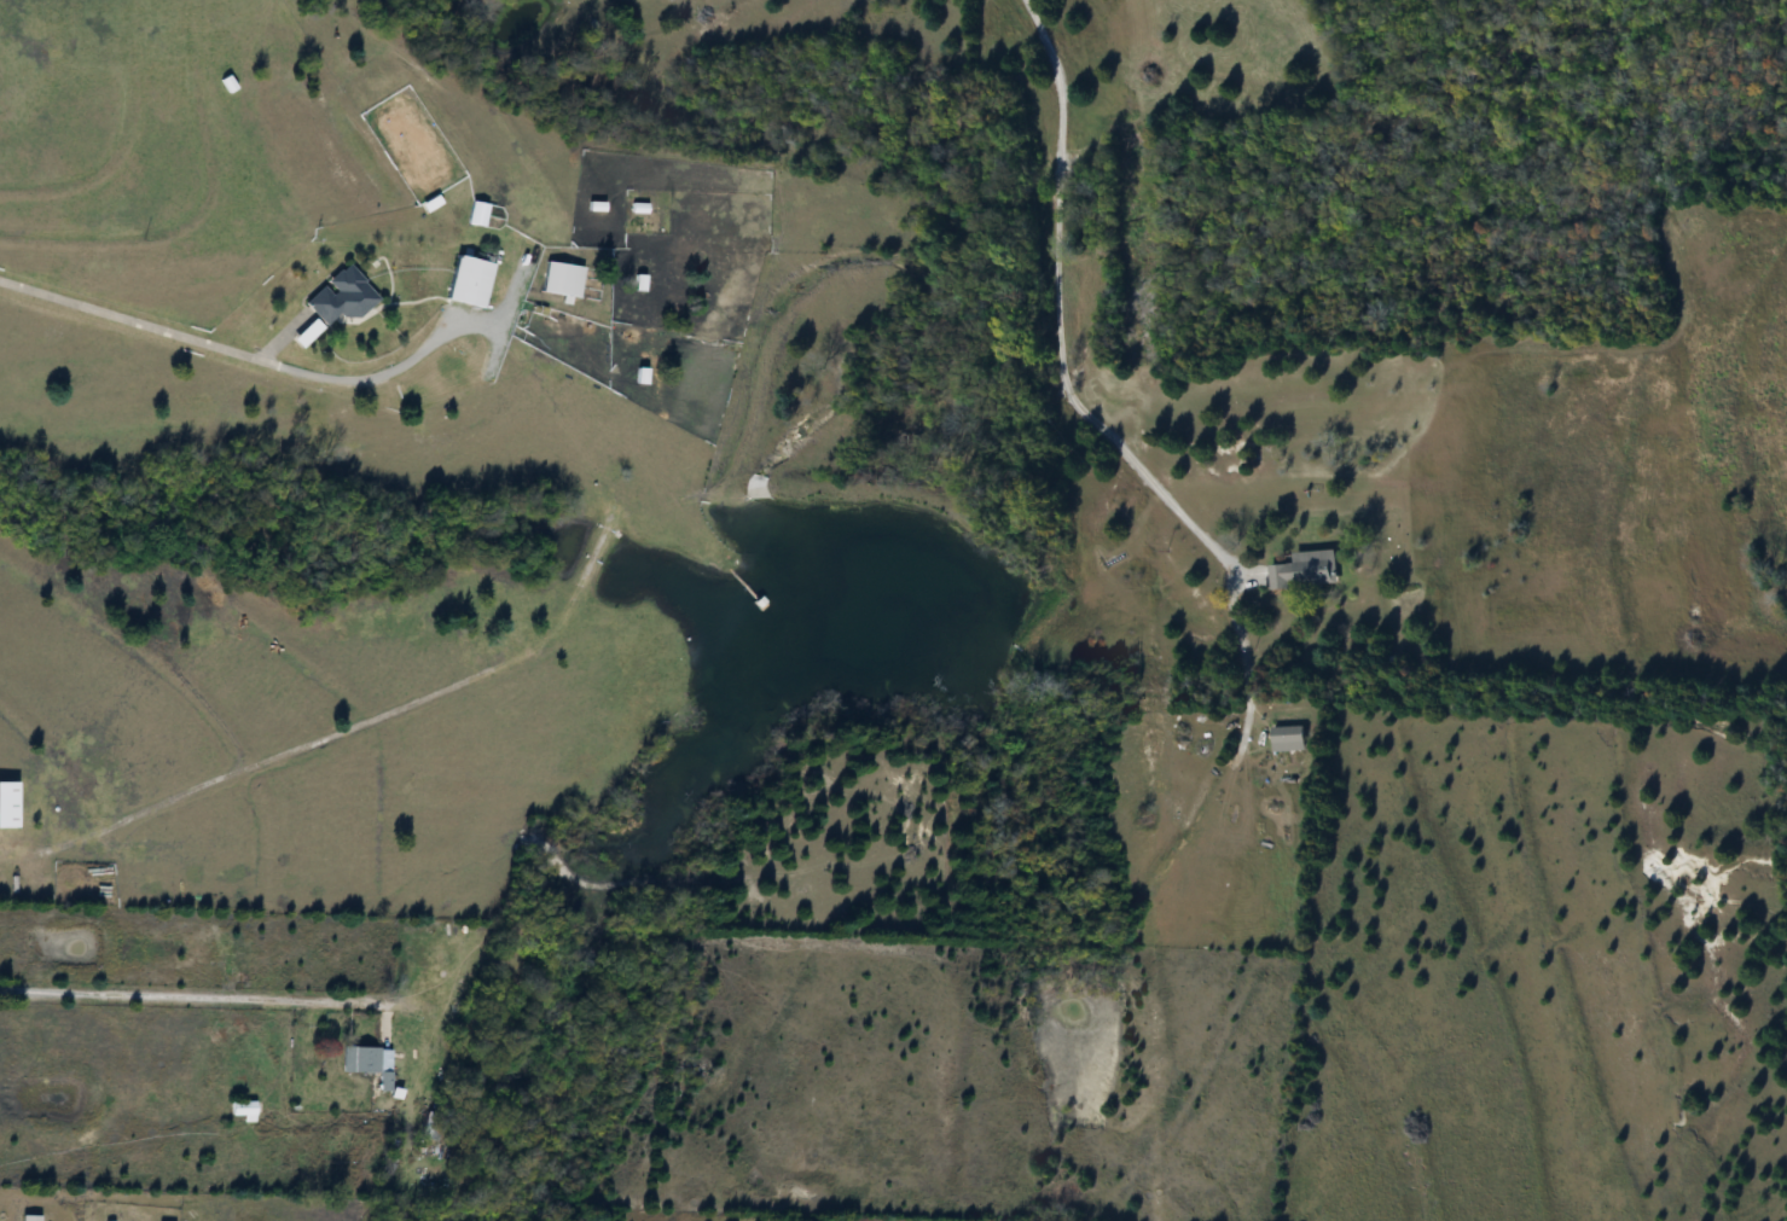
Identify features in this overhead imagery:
building: (472, 214)
building: (558, 279)
building: (465, 281)
building: (336, 297)
road: (255, 368)
road: (1050, 397)
building: (1302, 570)
building: (39, 818)
road: (209, 995)
building: (365, 1063)
building: (238, 1111)

